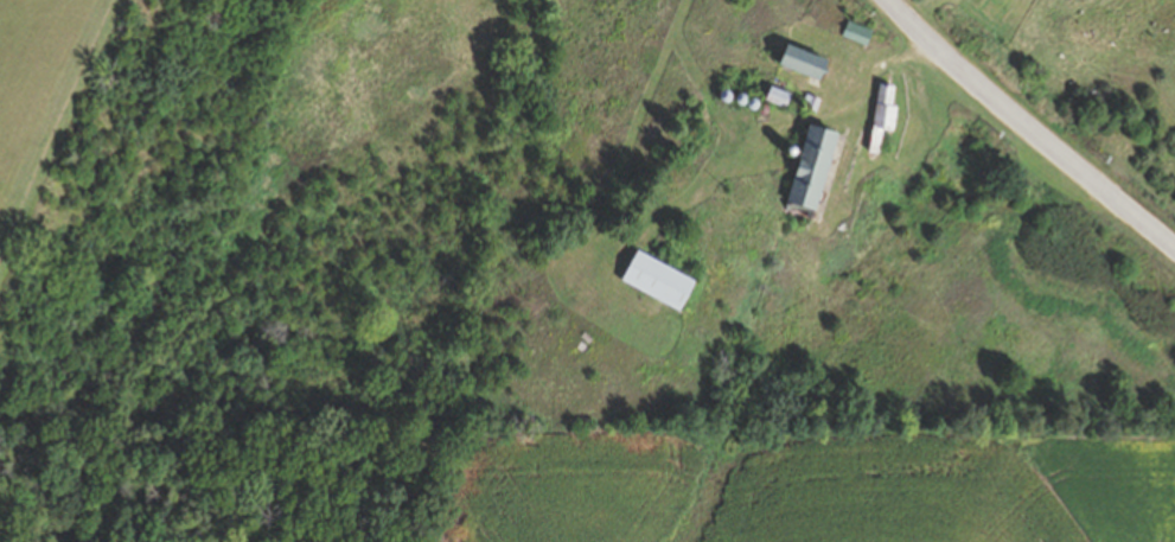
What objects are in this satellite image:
building: (858, 33)
building: (805, 63)
building: (779, 97)
building: (811, 104)
building: (885, 116)
road: (1033, 125)
road: (734, 167)
building: (812, 171)
building: (660, 280)

